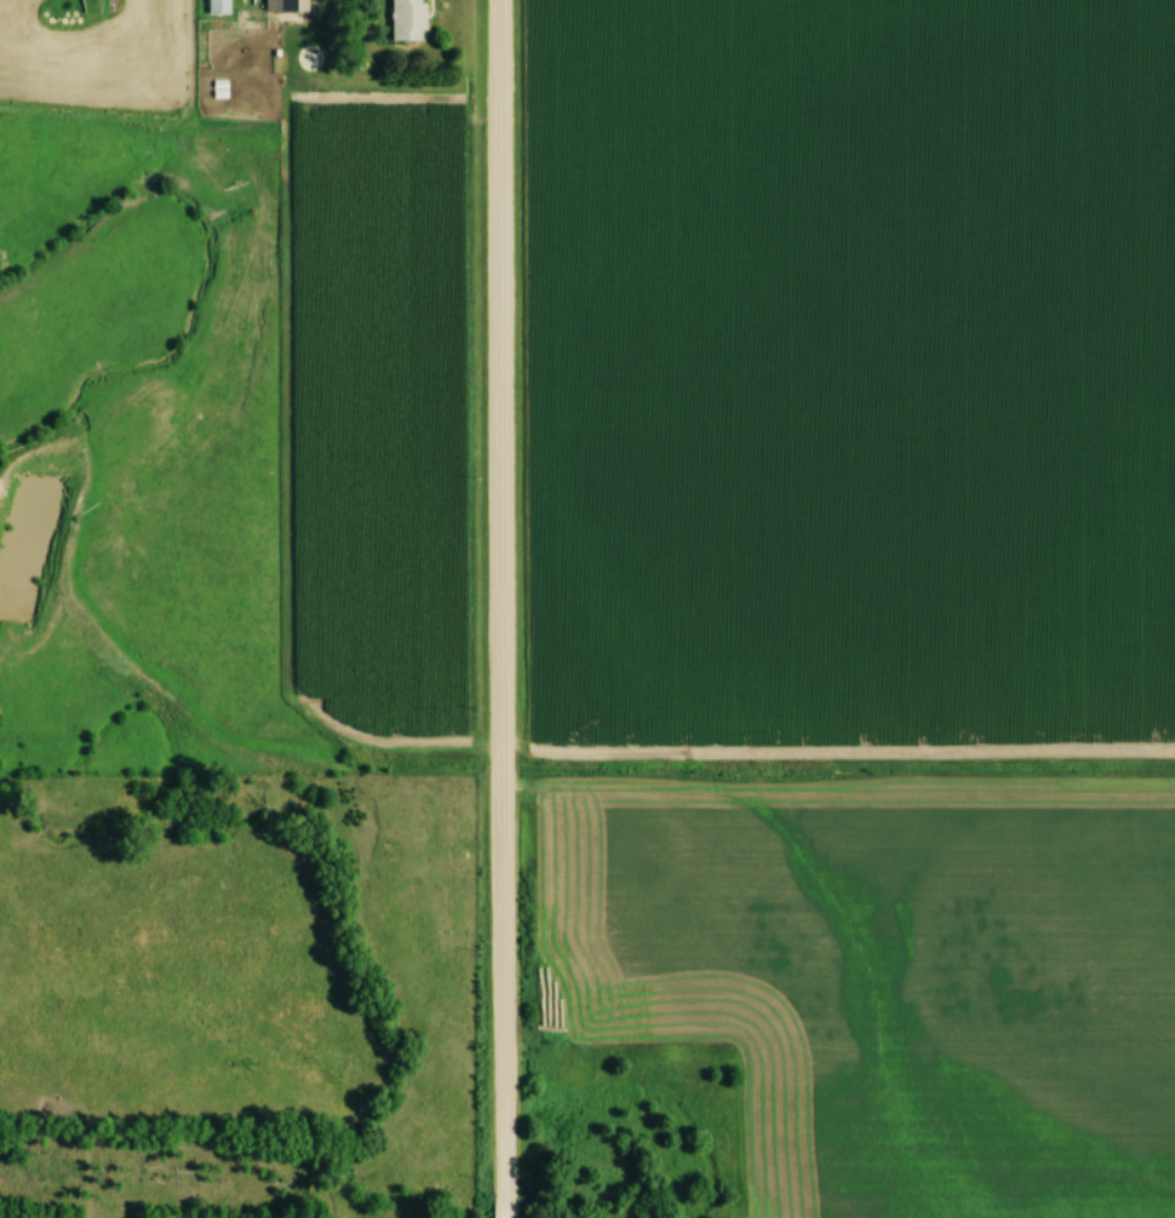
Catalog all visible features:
building: (208, 8)
building: (274, 10)
building: (408, 19)
crop: (846, 374)
crop: (368, 419)
road: (492, 609)

